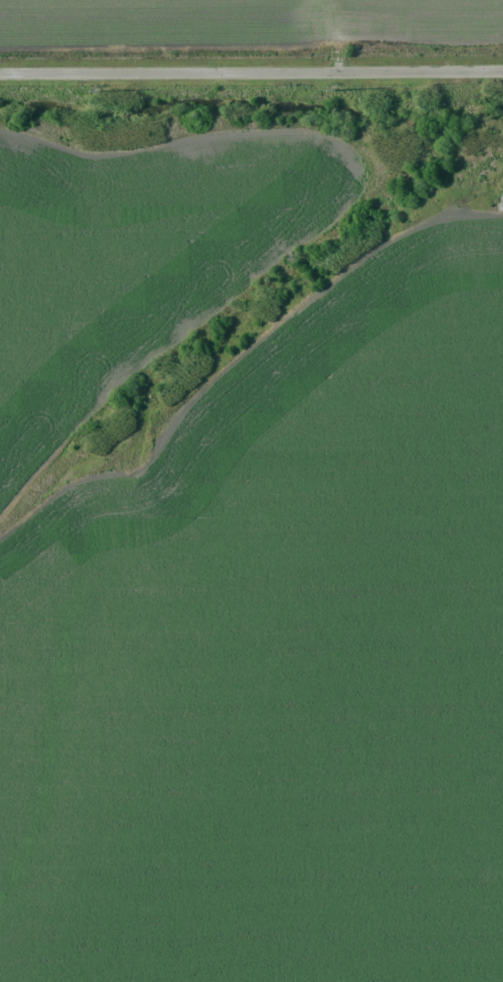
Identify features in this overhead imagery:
road: (251, 50)
power tower: (338, 87)
power tower: (106, 88)

